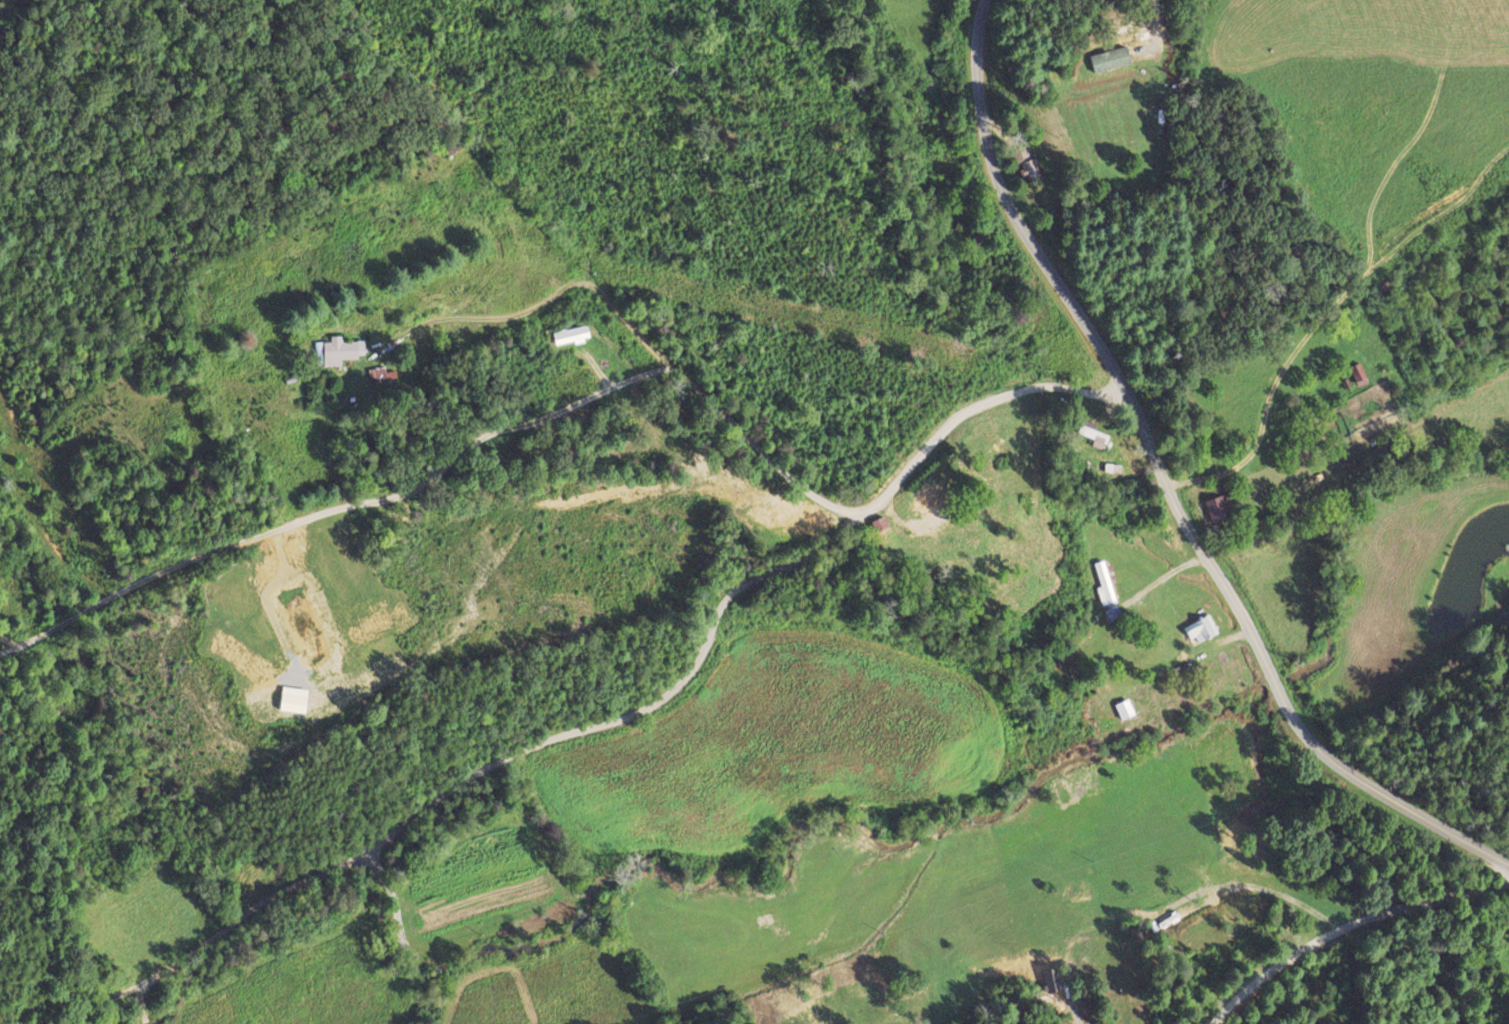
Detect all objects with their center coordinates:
building: (1109, 60)
building: (1026, 163)
road: (1037, 254)
building: (570, 334)
building: (340, 350)
road: (661, 359)
building: (1357, 374)
building: (382, 375)
building: (1092, 433)
building: (1216, 507)
road: (334, 508)
building: (1104, 582)
road: (1224, 586)
building: (1112, 613)
building: (1199, 629)
road: (656, 699)
building: (1124, 709)
road: (1383, 783)

